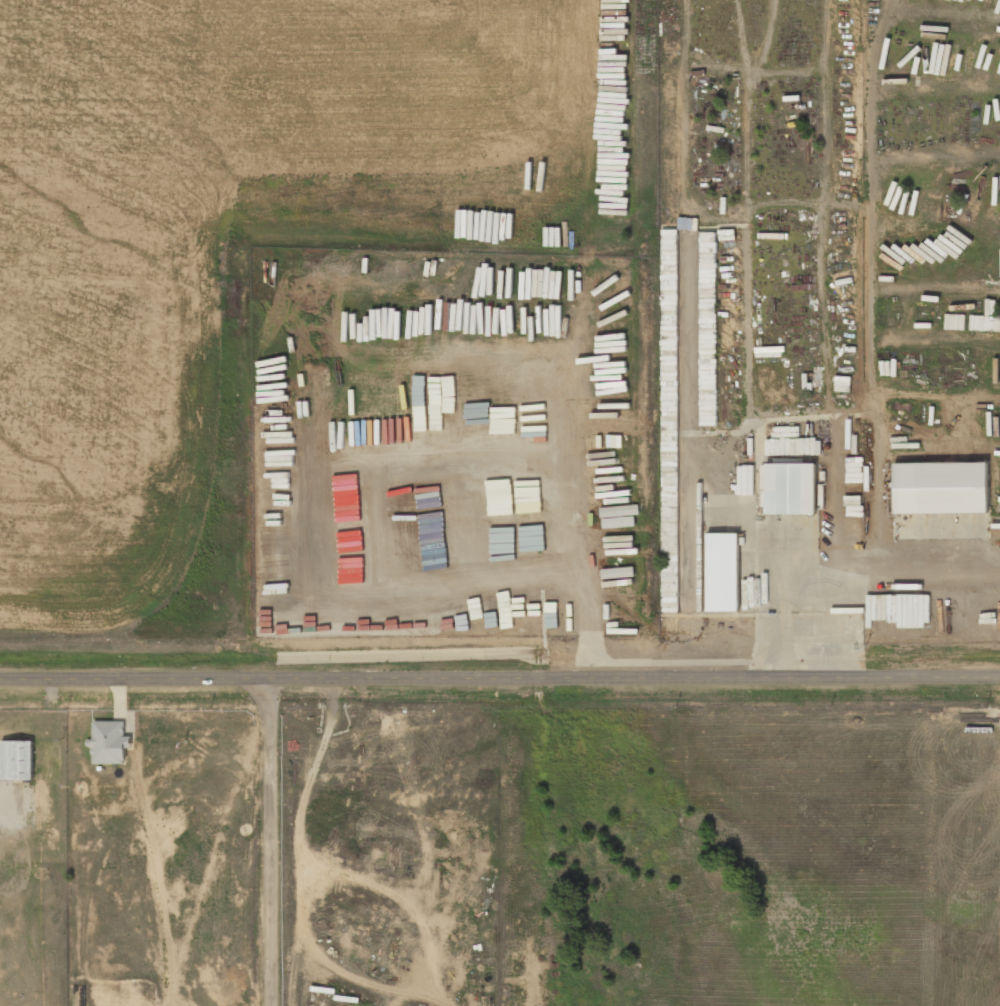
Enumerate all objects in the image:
building: (669, 261)
building: (707, 328)
building: (793, 446)
building: (940, 487)
building: (790, 488)
building: (669, 557)
building: (722, 571)
road: (499, 677)
building: (109, 742)
building: (17, 760)
road: (268, 842)

